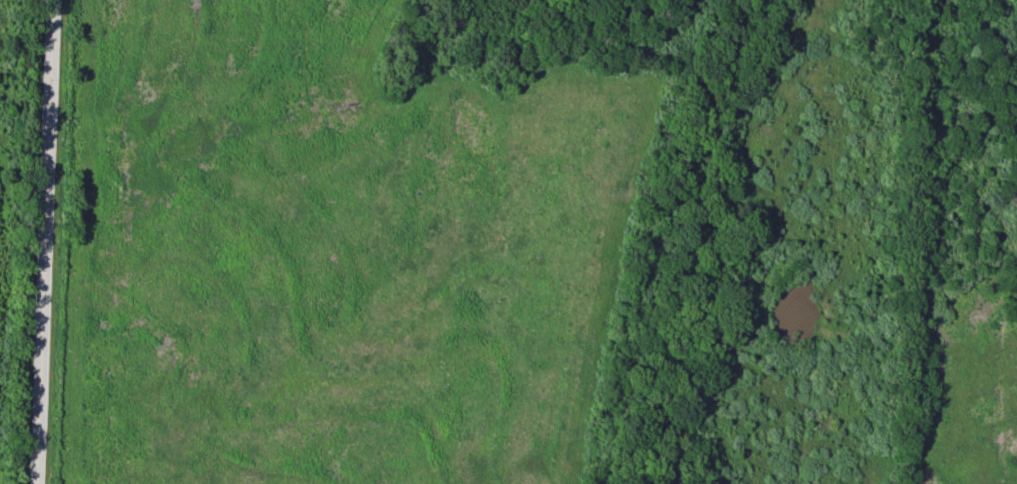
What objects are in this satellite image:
road: (45, 242)
park: (536, 242)

